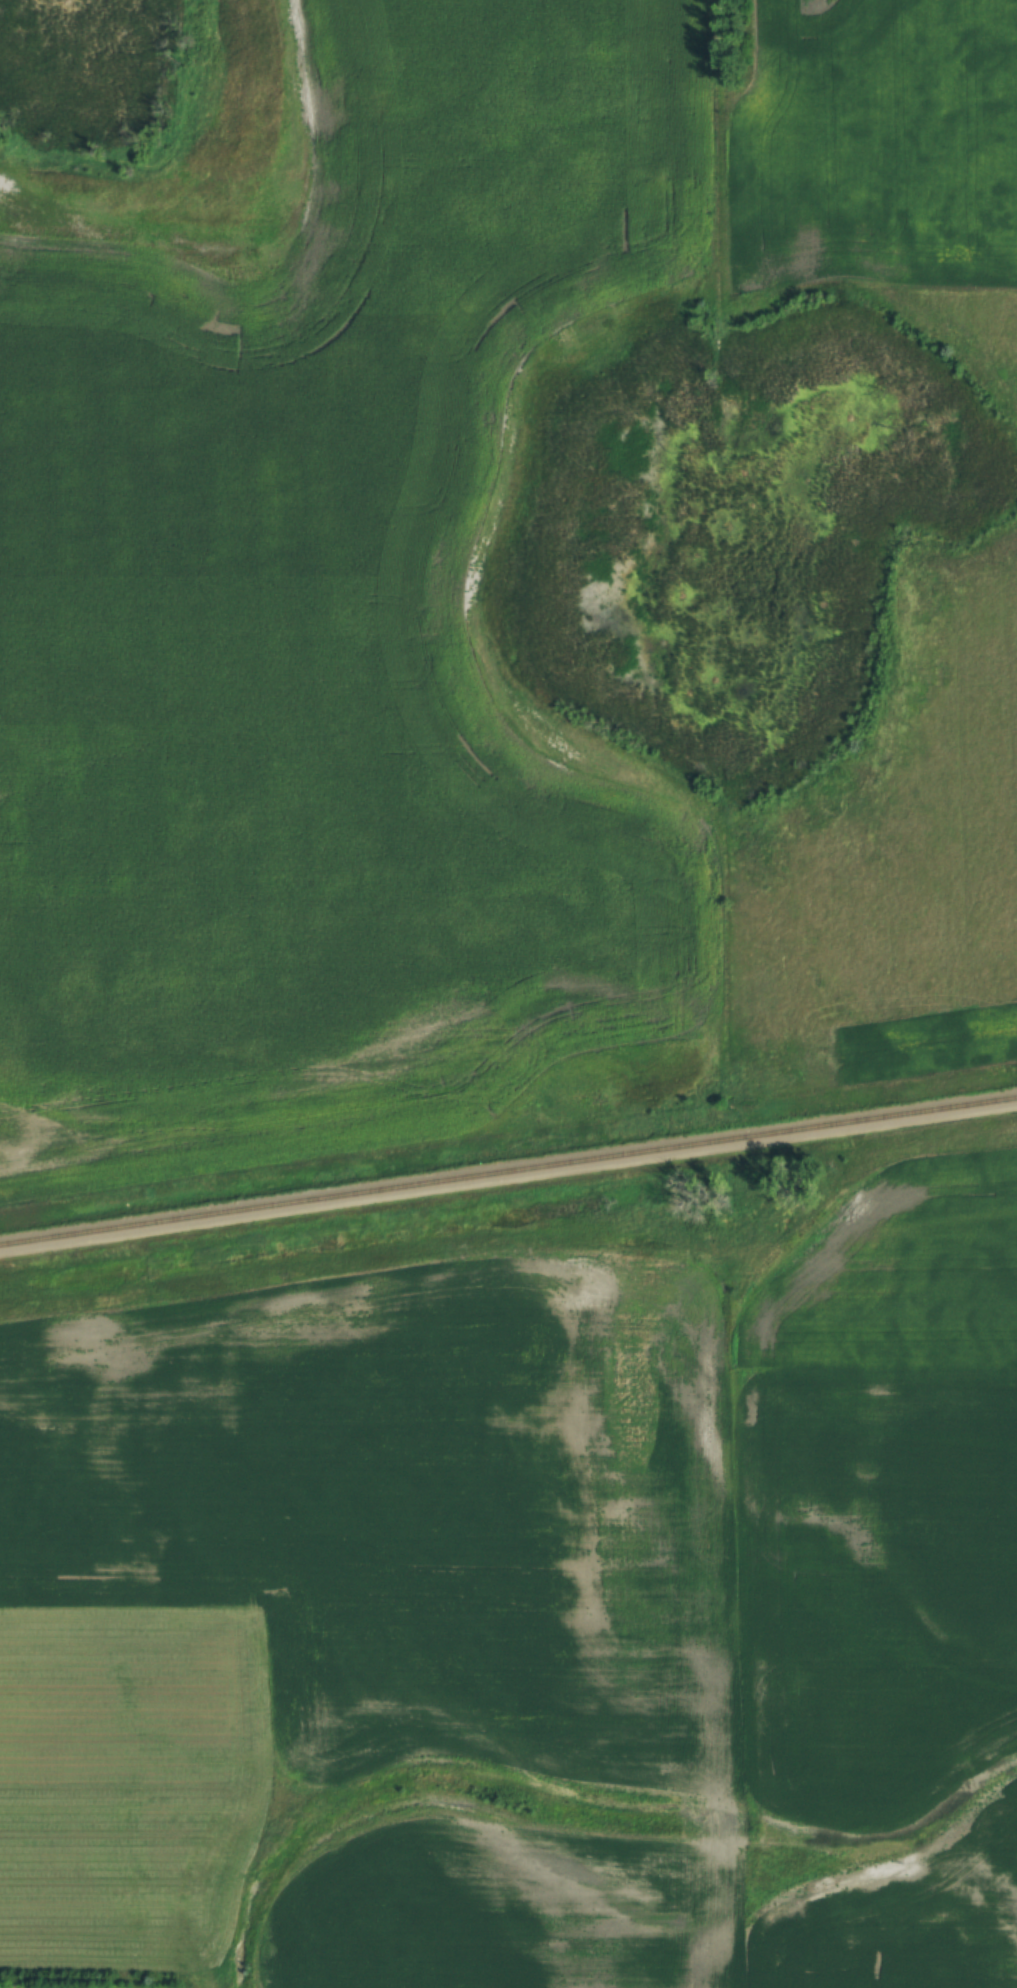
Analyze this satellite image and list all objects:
railway: (508, 1170)

